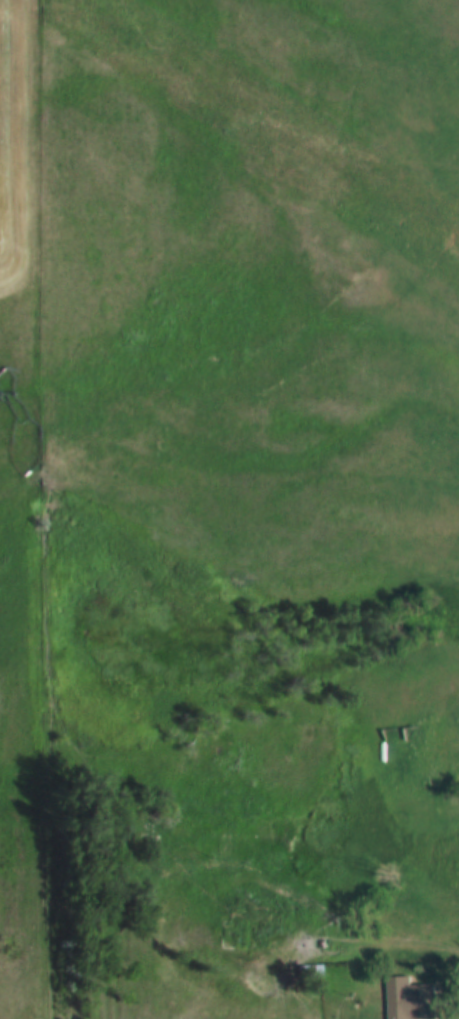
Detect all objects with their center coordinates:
building: (231, 933)
building: (307, 969)
building: (406, 999)

